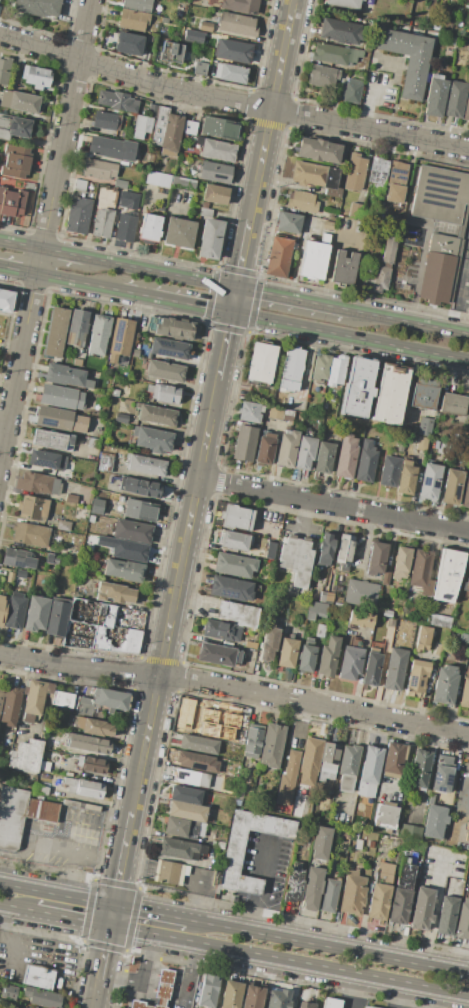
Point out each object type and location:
building: (344, 3)
building: (138, 5)
building: (240, 6)
building: (37, 7)
building: (133, 20)
building: (237, 24)
building: (206, 26)
building: (340, 31)
building: (149, 38)
building: (128, 41)
building: (233, 51)
building: (170, 52)
building: (146, 53)
building: (334, 54)
building: (407, 58)
building: (360, 64)
building: (199, 68)
building: (4, 70)
building: (233, 73)
building: (36, 76)
building: (323, 77)
building: (351, 91)
building: (435, 96)
building: (455, 99)
road: (232, 100)
road: (371, 100)
building: (19, 101)
building: (118, 101)
building: (466, 108)
road: (272, 109)
building: (106, 121)
building: (142, 126)
building: (14, 127)
building: (190, 127)
building: (221, 128)
building: (167, 131)
building: (112, 148)
building: (216, 149)
building: (319, 151)
building: (16, 161)
building: (99, 169)
building: (215, 172)
building: (354, 172)
building: (378, 174)
building: (396, 176)
building: (316, 177)
building: (158, 179)
building: (183, 183)
building: (120, 184)
building: (79, 185)
building: (215, 194)
building: (443, 195)
building: (396, 197)
building: (302, 201)
building: (11, 202)
building: (356, 211)
building: (205, 212)
building: (78, 215)
building: (103, 222)
building: (288, 222)
road: (161, 225)
building: (328, 225)
building: (150, 227)
building: (126, 228)
building: (179, 232)
road: (44, 234)
building: (210, 238)
building: (324, 238)
road: (21, 243)
building: (388, 249)
road: (64, 253)
road: (242, 253)
road: (329, 254)
building: (278, 256)
building: (313, 259)
building: (442, 267)
building: (343, 268)
road: (18, 269)
road: (160, 272)
building: (374, 278)
road: (78, 281)
traffic signals: (235, 287)
road: (461, 295)
road: (292, 298)
road: (232, 299)
building: (6, 301)
road: (174, 301)
building: (467, 309)
traffic signals: (229, 312)
road: (408, 322)
building: (170, 327)
building: (77, 328)
building: (55, 332)
building: (99, 333)
road: (349, 336)
building: (120, 339)
road: (222, 346)
building: (169, 348)
building: (135, 353)
building: (76, 362)
building: (261, 363)
building: (321, 367)
building: (292, 369)
building: (337, 370)
building: (165, 371)
building: (121, 372)
road: (305, 372)
building: (64, 374)
building: (358, 387)
building: (115, 393)
building: (164, 393)
building: (423, 393)
building: (390, 394)
building: (60, 396)
building: (452, 403)
building: (249, 412)
building: (281, 414)
building: (156, 415)
building: (121, 418)
building: (60, 419)
building: (321, 419)
building: (422, 426)
road: (3, 438)
building: (51, 439)
building: (152, 439)
building: (94, 443)
building: (244, 443)
building: (422, 444)
building: (443, 447)
building: (287, 448)
building: (399, 448)
building: (265, 449)
building: (305, 452)
building: (346, 456)
building: (323, 457)
building: (46, 459)
building: (366, 461)
building: (146, 465)
building: (390, 471)
building: (406, 478)
building: (429, 482)
building: (38, 484)
building: (139, 487)
building: (452, 487)
building: (465, 491)
road: (47, 494)
building: (71, 498)
road: (332, 504)
building: (96, 506)
building: (34, 508)
building: (140, 511)
building: (237, 517)
road: (302, 517)
building: (91, 518)
building: (63, 525)
building: (131, 531)
building: (30, 534)
building: (236, 541)
building: (123, 549)
building: (325, 549)
building: (345, 549)
building: (269, 550)
building: (16, 557)
building: (376, 558)
building: (52, 559)
building: (296, 562)
building: (401, 563)
building: (234, 565)
building: (123, 570)
building: (422, 571)
building: (448, 575)
building: (9, 577)
building: (23, 578)
building: (386, 578)
building: (467, 581)
building: (231, 588)
building: (114, 592)
building: (361, 593)
road: (173, 596)
building: (327, 596)
road: (193, 602)
building: (2, 609)
building: (316, 610)
building: (15, 611)
building: (36, 613)
building: (238, 613)
building: (387, 613)
building: (57, 617)
building: (361, 618)
building: (440, 621)
building: (390, 623)
building: (98, 629)
building: (320, 630)
building: (222, 631)
building: (464, 637)
building: (423, 638)
building: (269, 642)
building: (251, 643)
building: (438, 650)
building: (218, 654)
building: (287, 656)
building: (306, 656)
building: (328, 656)
building: (350, 663)
building: (371, 668)
building: (395, 669)
building: (417, 678)
building: (445, 684)
road: (235, 688)
building: (464, 691)
building: (1, 695)
building: (34, 698)
building: (110, 699)
building: (64, 700)
building: (10, 706)
road: (41, 706)
building: (84, 707)
building: (94, 727)
building: (220, 731)
building: (119, 736)
building: (253, 741)
building: (89, 743)
building: (198, 744)
building: (272, 745)
building: (26, 755)
road: (405, 759)
building: (393, 760)
building: (197, 761)
building: (329, 761)
road: (358, 761)
building: (309, 762)
building: (91, 764)
building: (44, 766)
building: (348, 768)
building: (420, 769)
building: (370, 771)
building: (69, 773)
building: (442, 773)
building: (191, 778)
building: (288, 779)
building: (42, 788)
building: (83, 788)
building: (185, 794)
building: (80, 805)
building: (299, 807)
building: (186, 811)
building: (20, 814)
building: (384, 816)
building: (435, 821)
building: (180, 827)
building: (410, 831)
building: (354, 834)
building: (345, 835)
building: (321, 843)
building: (371, 844)
building: (358, 846)
building: (180, 849)
road: (120, 857)
building: (232, 857)
road: (137, 865)
building: (169, 872)
road: (171, 872)
building: (294, 883)
road: (266, 885)
building: (312, 888)
building: (402, 891)
road: (55, 892)
road: (192, 893)
building: (353, 893)
building: (329, 896)
building: (380, 897)
traffic signals: (112, 903)
road: (435, 908)
road: (15, 909)
building: (421, 909)
road: (150, 910)
road: (109, 915)
building: (447, 916)
road: (69, 920)
building: (463, 921)
traffic signals: (107, 928)
road: (4, 934)
road: (329, 945)
road: (146, 958)
road: (101, 961)
road: (288, 962)
road: (188, 966)
road: (120, 976)
building: (37, 977)
road: (149, 981)
road: (163, 984)
road: (177, 986)
building: (157, 991)
building: (208, 991)
building: (10, 992)
road: (354, 992)
road: (149, 993)
building: (231, 995)
building: (42, 997)
building: (253, 997)
road: (181, 998)
building: (278, 999)
road: (92, 1001)
building: (1, 1003)
building: (331, 1003)
building: (305, 1004)
road: (146, 1006)
building: (30, 1007)
building: (366, 1007)

